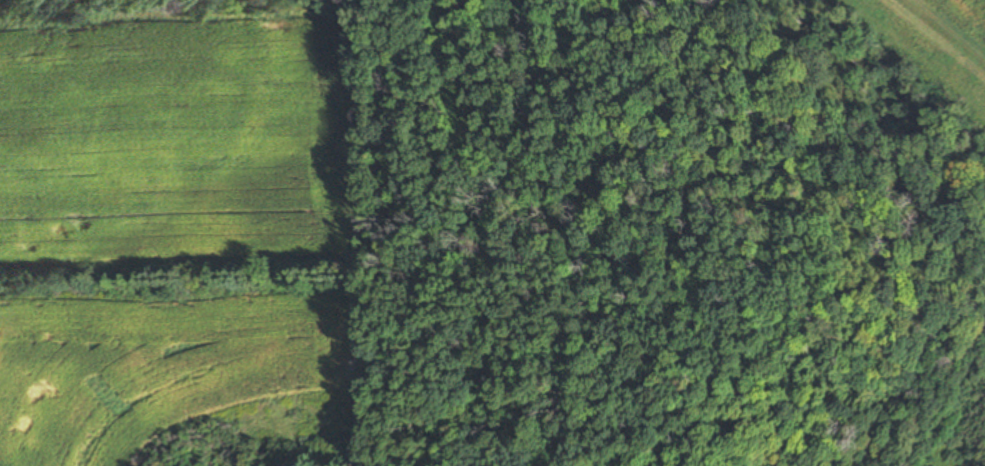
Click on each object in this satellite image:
road: (954, 24)

